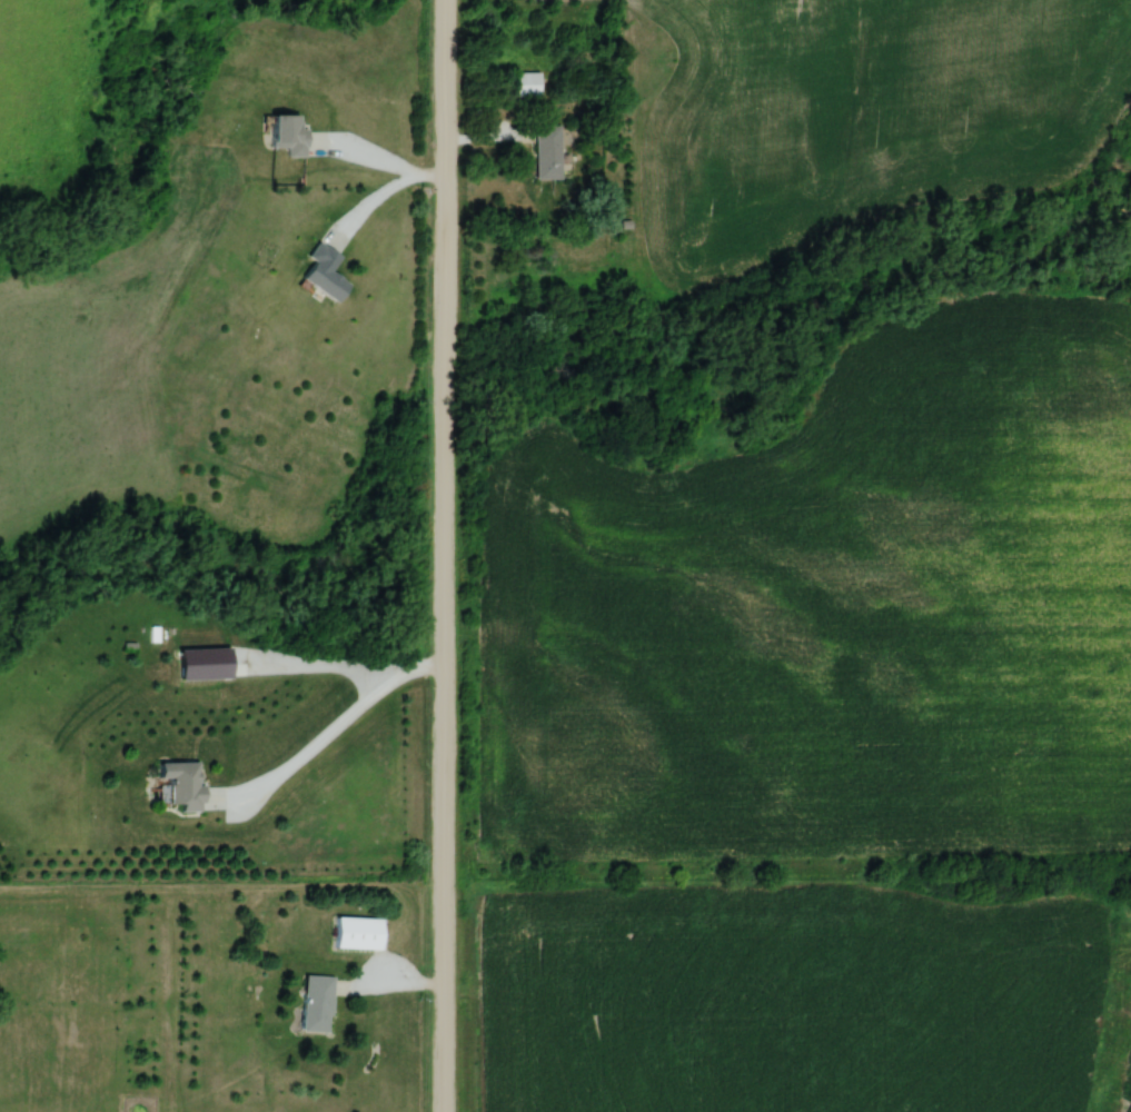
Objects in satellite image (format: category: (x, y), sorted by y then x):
building: (526, 83)
building: (287, 133)
building: (548, 153)
road: (378, 158)
road: (367, 205)
building: (324, 272)
road: (445, 556)
road: (335, 704)
building: (172, 783)
building: (350, 932)
building: (308, 1003)

